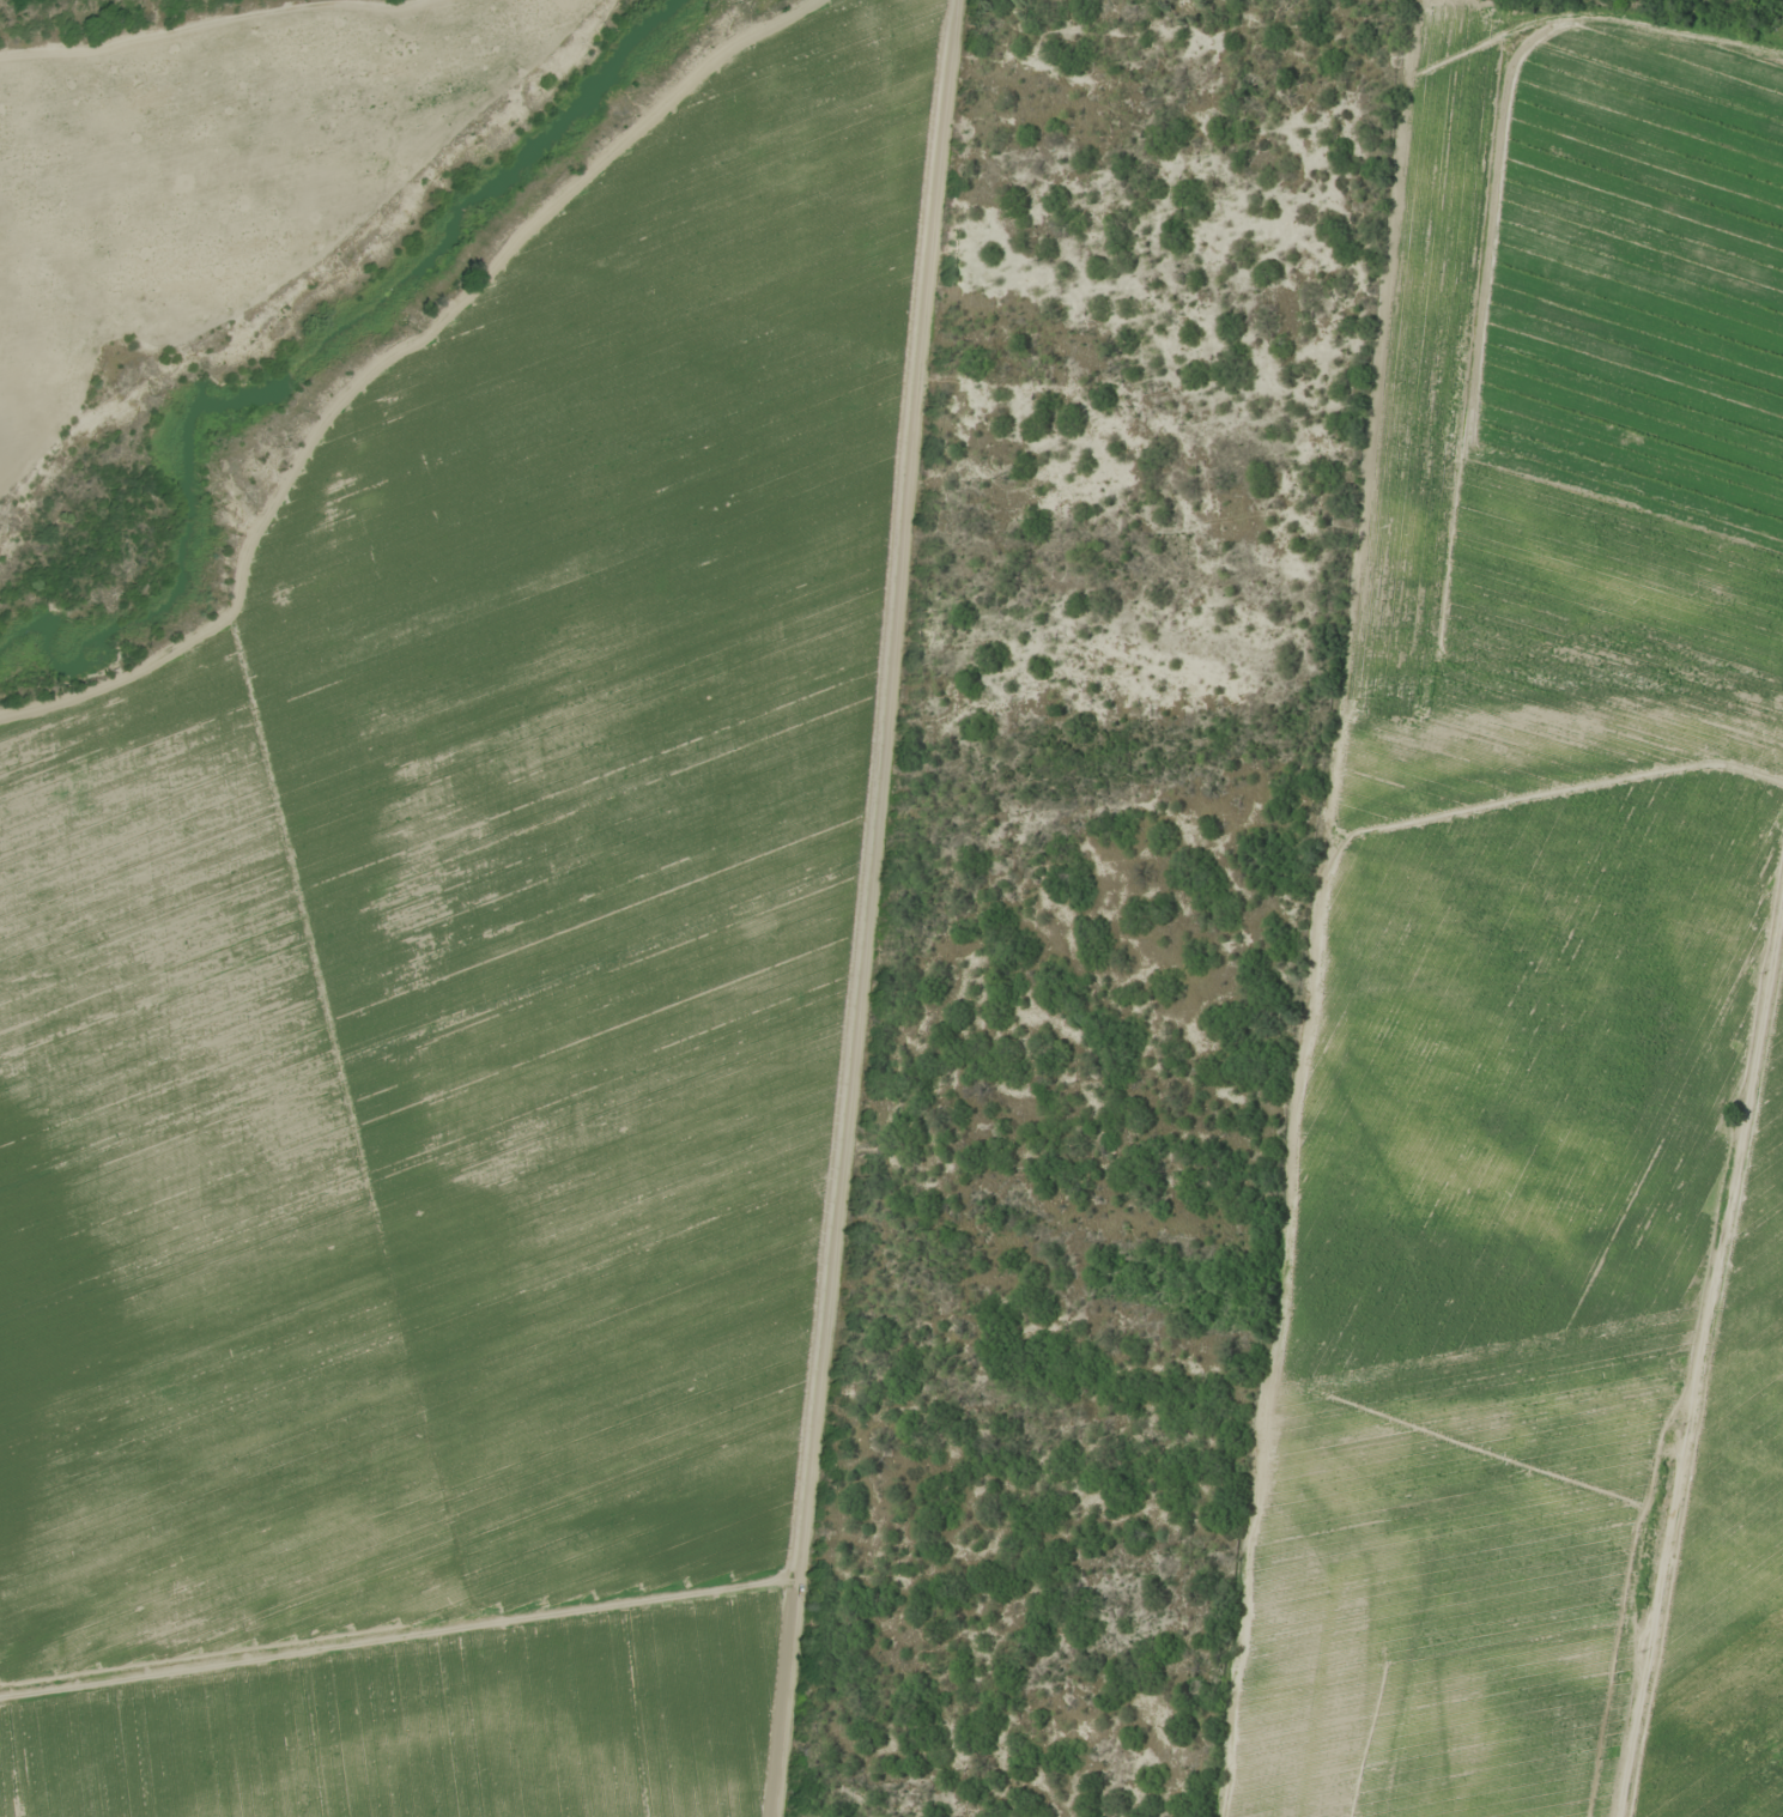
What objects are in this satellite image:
river: (317, 355)

